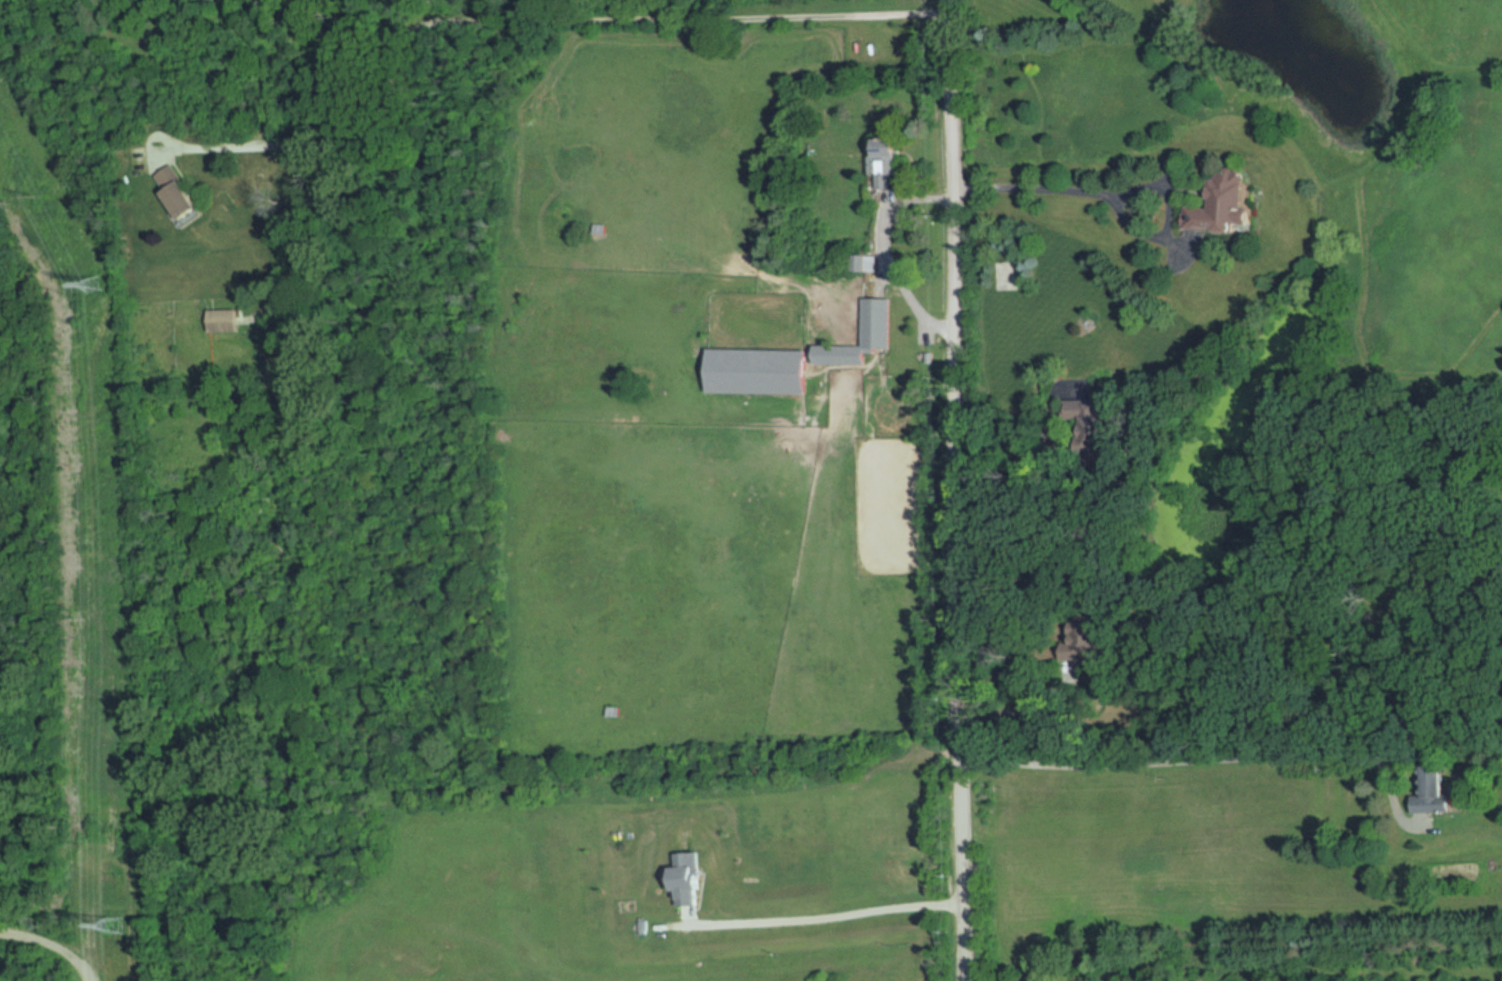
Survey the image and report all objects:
road: (515, 20)
building: (883, 163)
building: (179, 192)
road: (885, 202)
road: (1113, 203)
building: (1223, 203)
building: (600, 229)
road: (880, 253)
building: (863, 264)
power tower: (96, 286)
building: (224, 321)
building: (876, 322)
road: (922, 329)
building: (925, 357)
building: (756, 372)
road: (1043, 470)
road: (954, 490)
park: (893, 506)
road: (1025, 705)
building: (611, 711)
building: (616, 713)
road: (1199, 762)
building: (1431, 791)
building: (683, 878)
road: (685, 915)
road: (806, 918)
building: (640, 925)
power tower: (118, 928)
road: (50, 945)

